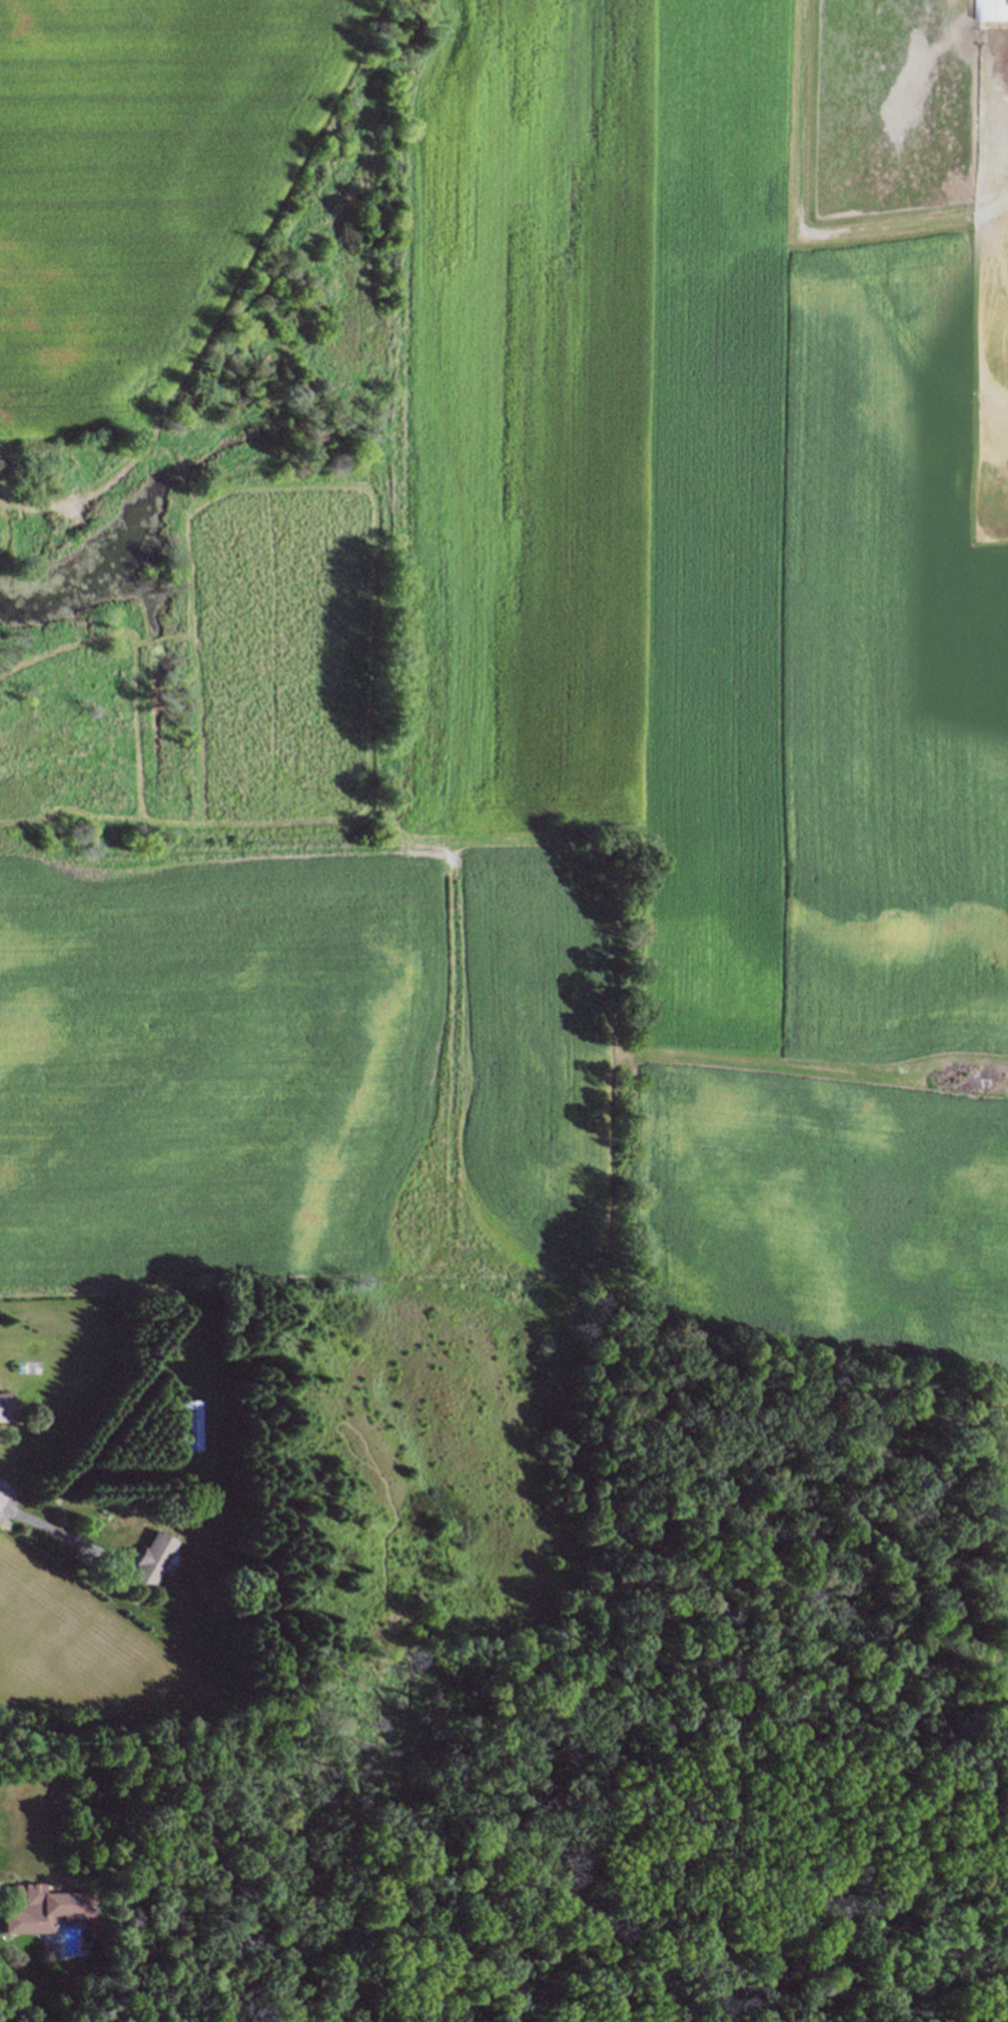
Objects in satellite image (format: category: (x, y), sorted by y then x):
building: (991, 9)
crop: (144, 187)
crop: (614, 741)
building: (6, 1406)
building: (191, 1426)
park: (427, 1505)
road: (58, 1533)
building: (152, 1560)
crop: (1007, 1691)
building: (48, 1909)

